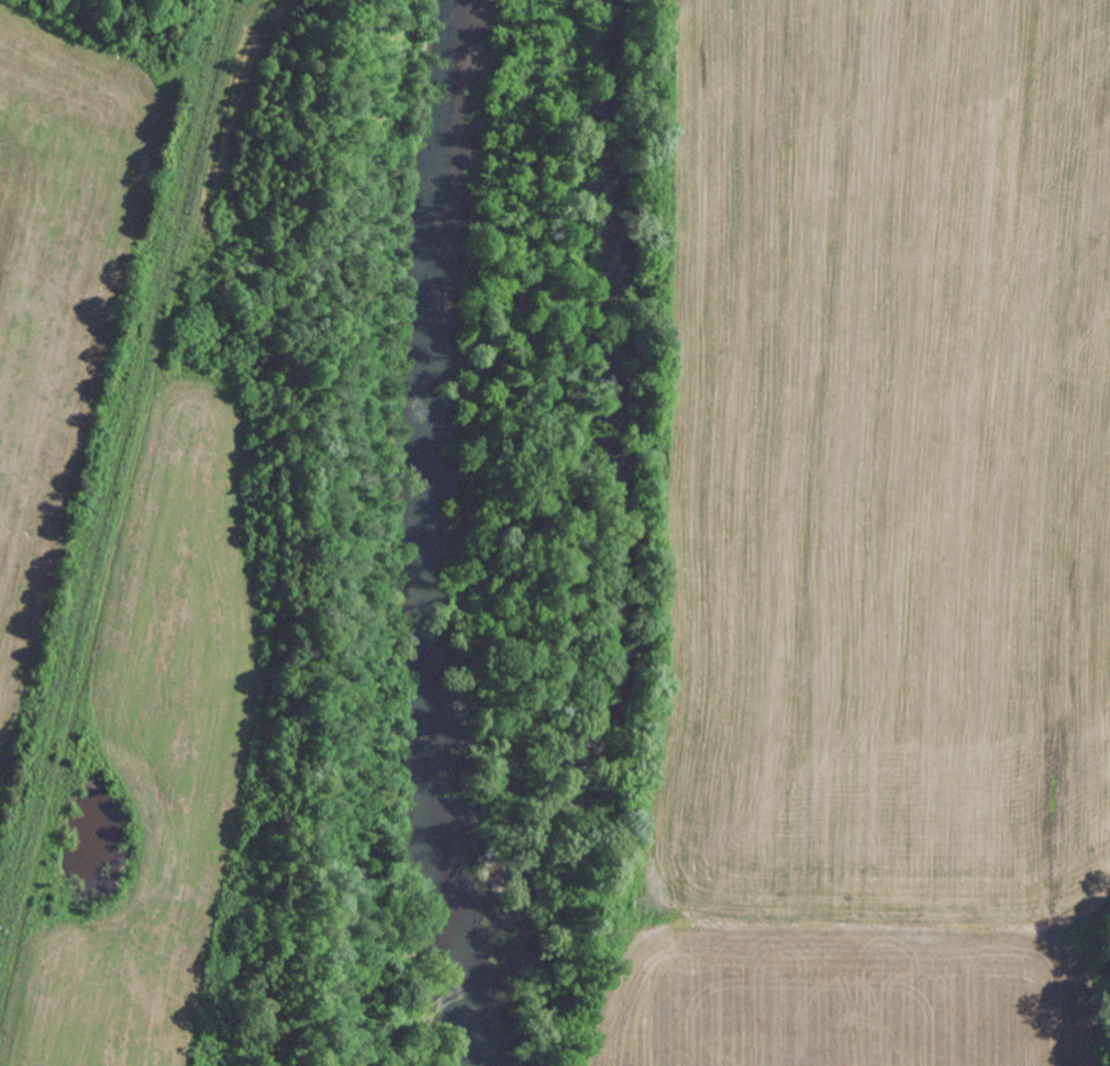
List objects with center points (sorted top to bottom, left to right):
river: (429, 532)

